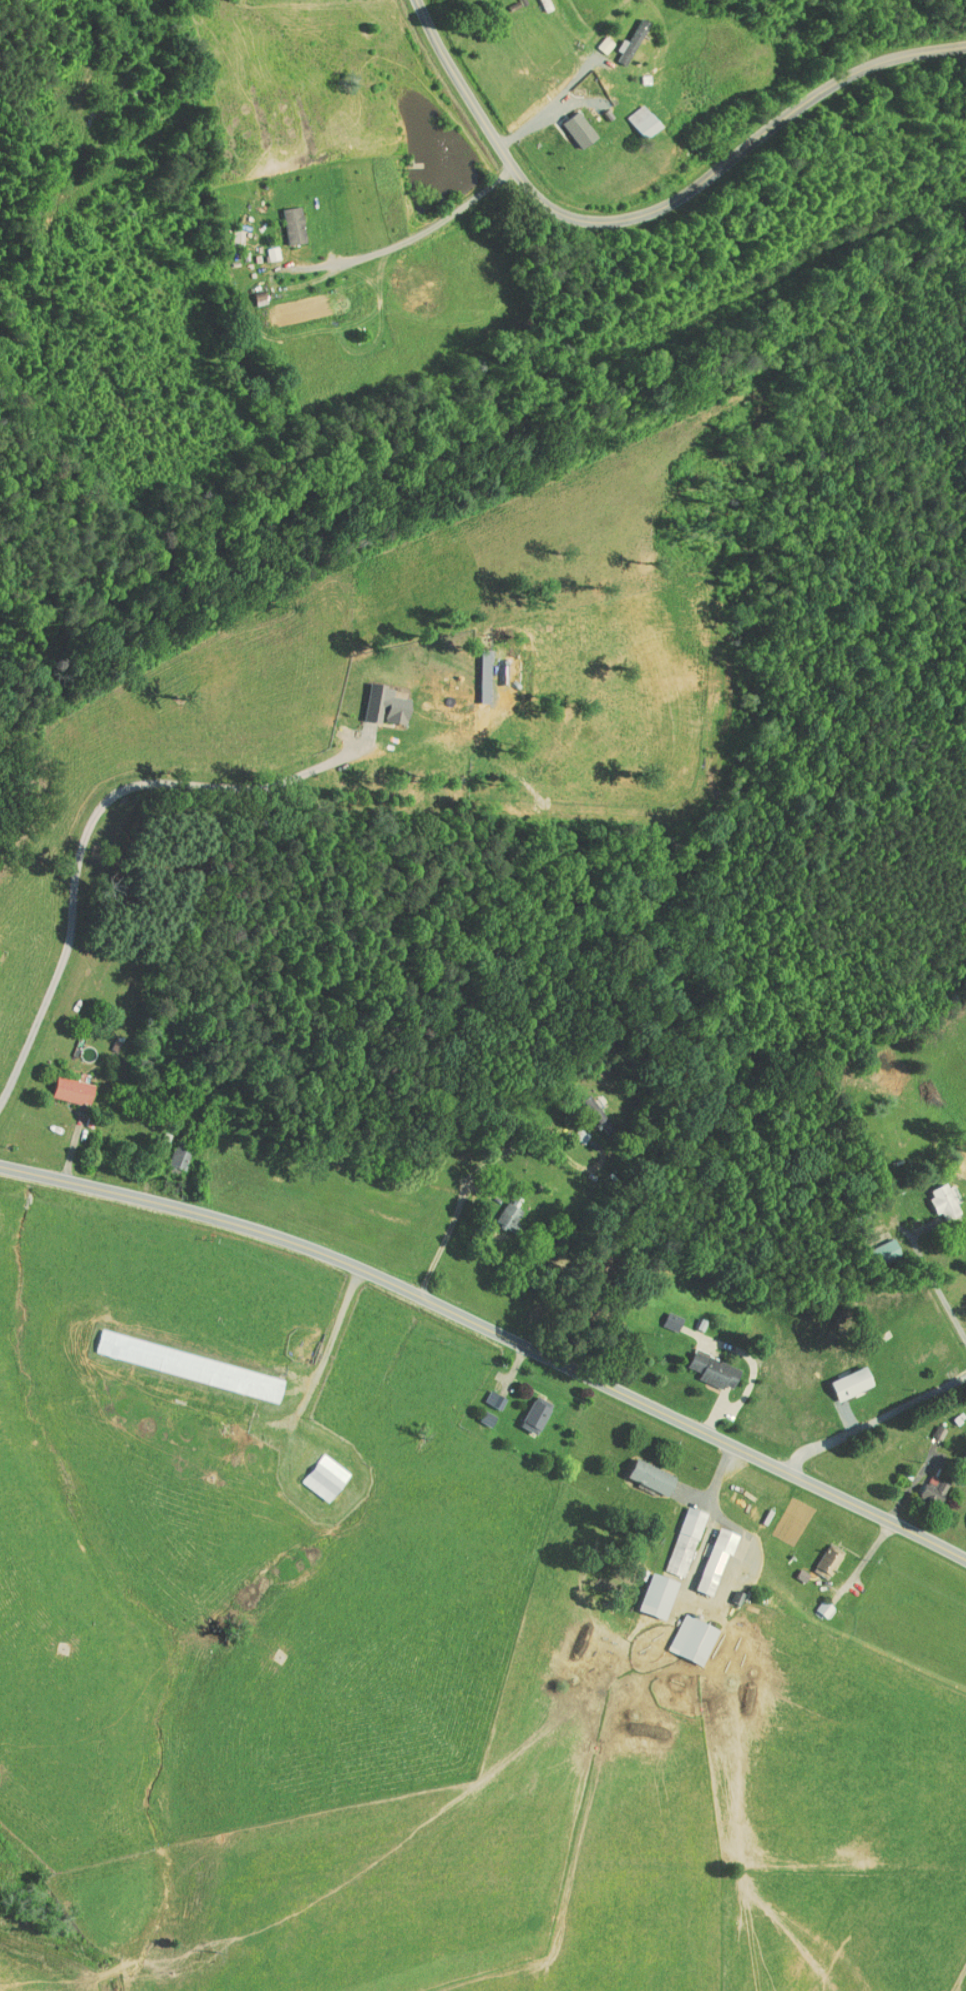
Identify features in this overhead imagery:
building: (620, 36)
building: (595, 38)
building: (634, 115)
building: (570, 124)
road: (658, 211)
building: (283, 219)
building: (228, 231)
road: (407, 239)
building: (262, 247)
building: (250, 293)
building: (376, 698)
road: (89, 824)
building: (63, 1084)
building: (585, 1106)
building: (168, 1151)
road: (476, 1184)
building: (934, 1195)
building: (500, 1209)
building: (879, 1244)
road: (945, 1261)
building: (663, 1315)
road: (495, 1333)
building: (179, 1359)
building: (704, 1364)
building: (843, 1377)
building: (485, 1393)
building: (527, 1408)
road: (881, 1426)
building: (643, 1470)
building: (316, 1471)
building: (924, 1486)
building: (675, 1535)
building: (819, 1554)
building: (706, 1555)
building: (649, 1589)
building: (815, 1601)
building: (684, 1633)
road: (963, 1986)

